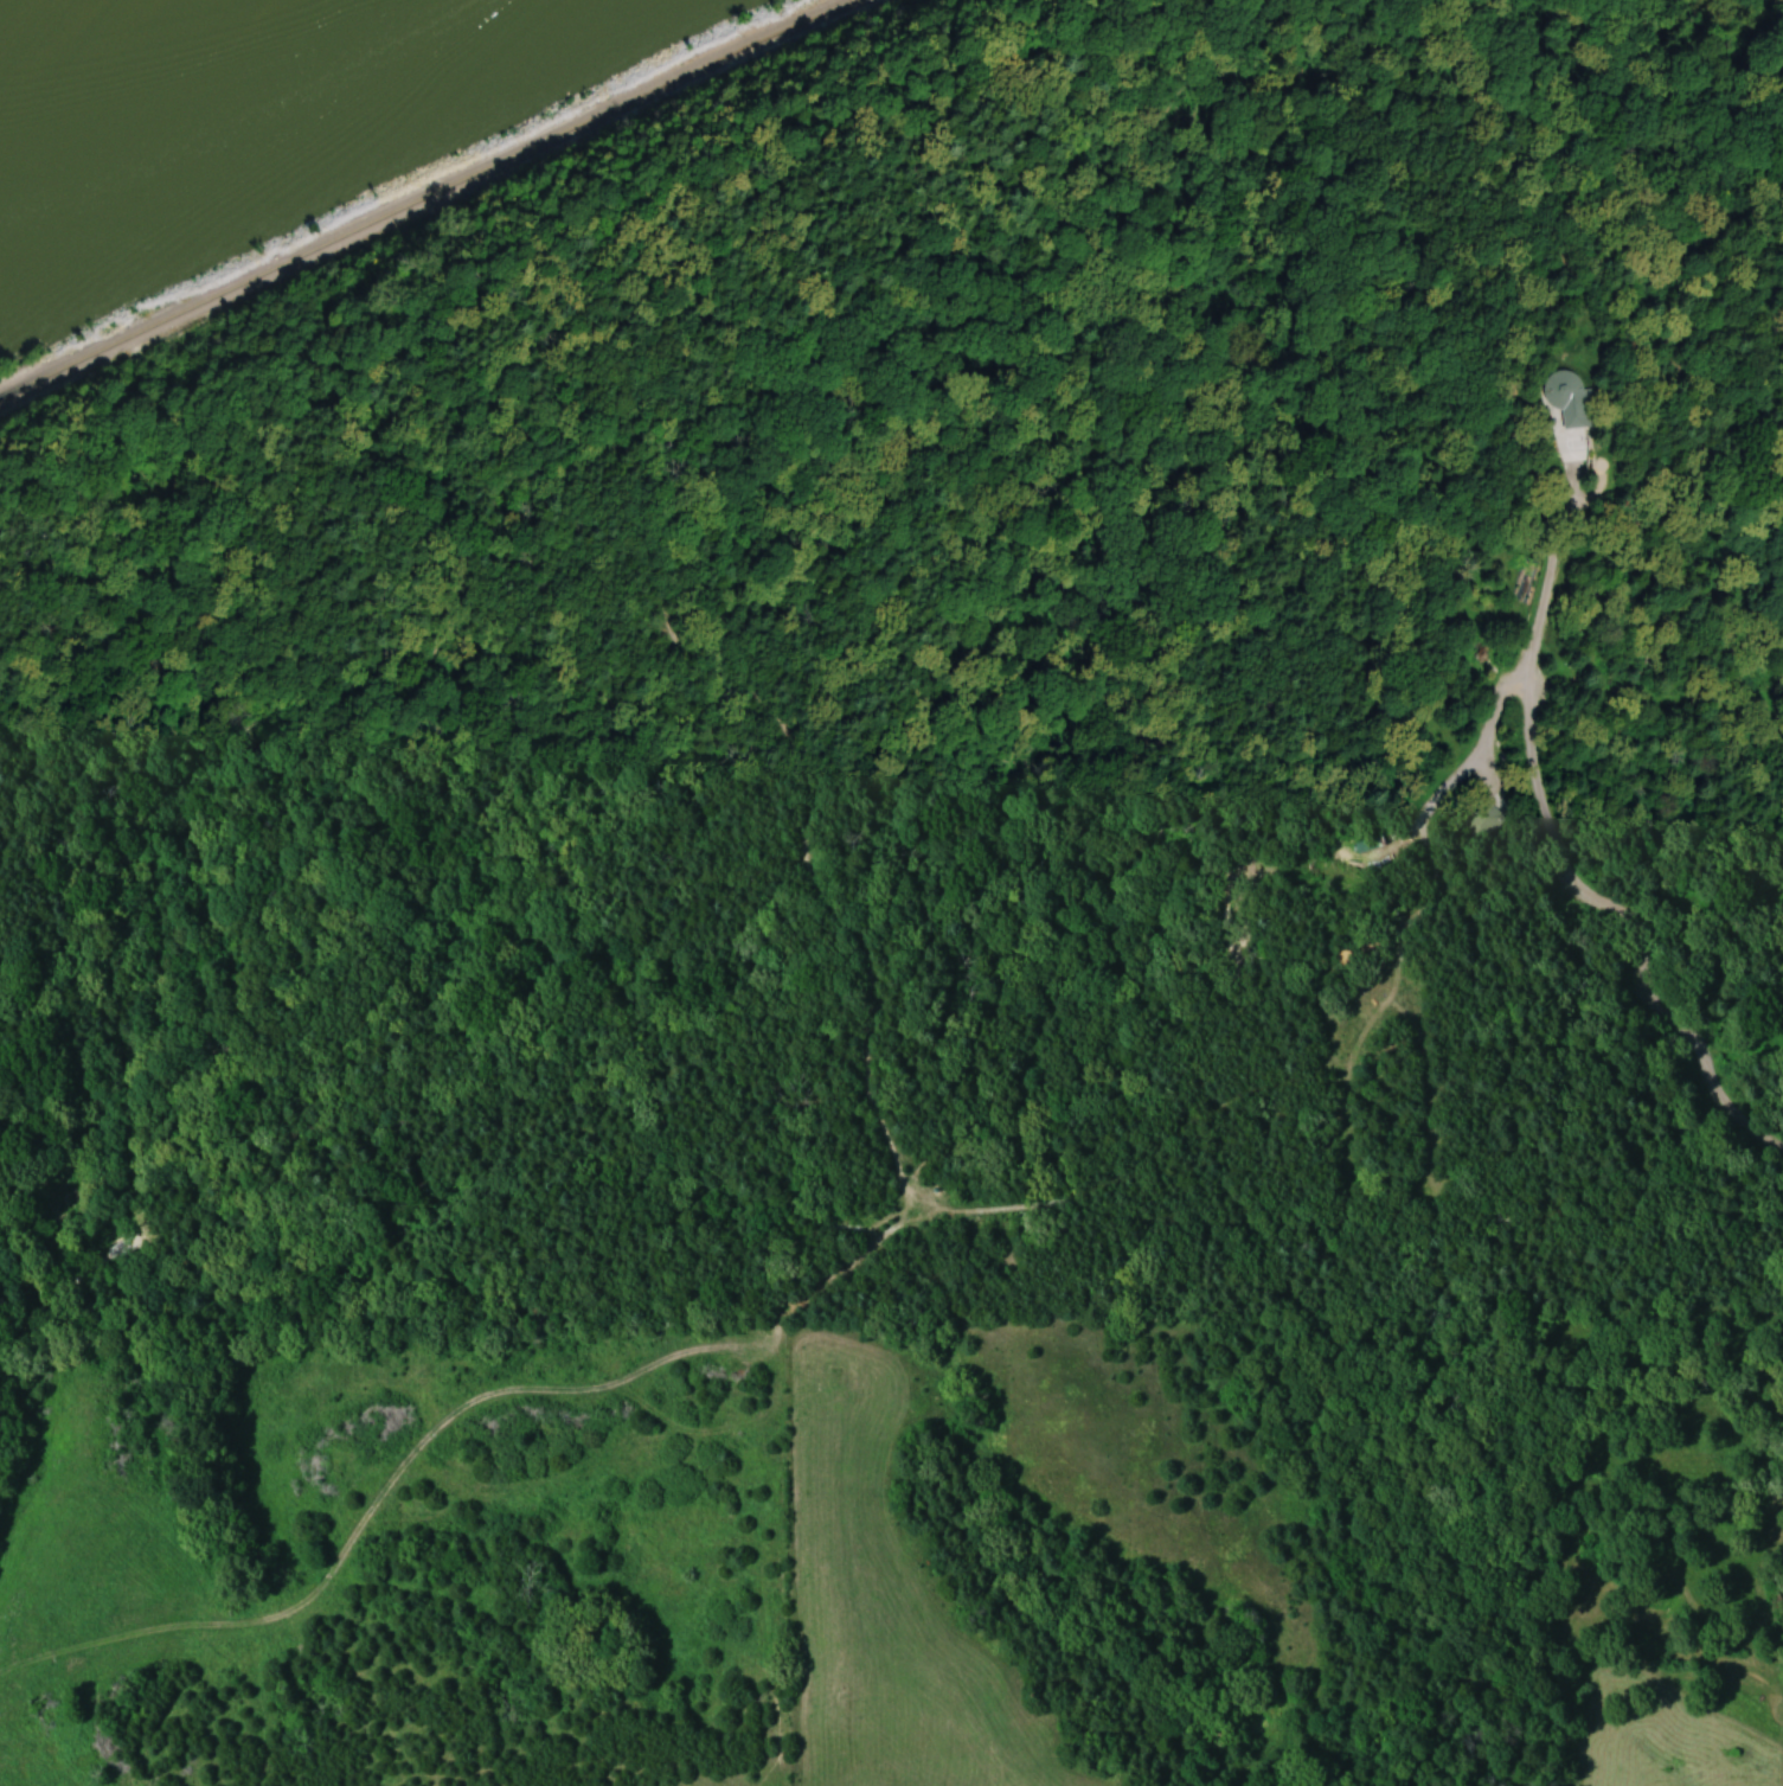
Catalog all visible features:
railway: (588, 122)
road: (1104, 300)
railway: (159, 321)
road: (1270, 584)
road: (434, 664)
road: (387, 723)
road: (862, 762)
road: (801, 782)
road: (934, 806)
building: (1482, 820)
road: (1547, 828)
road: (506, 897)
road: (1240, 913)
road: (398, 1086)
road: (447, 1221)

